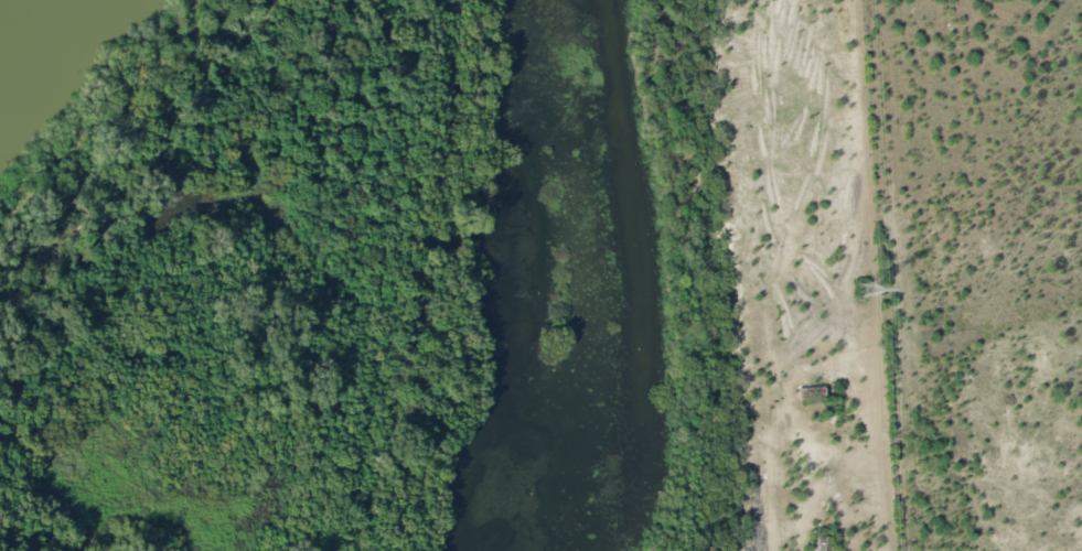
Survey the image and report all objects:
power tower: (866, 291)

